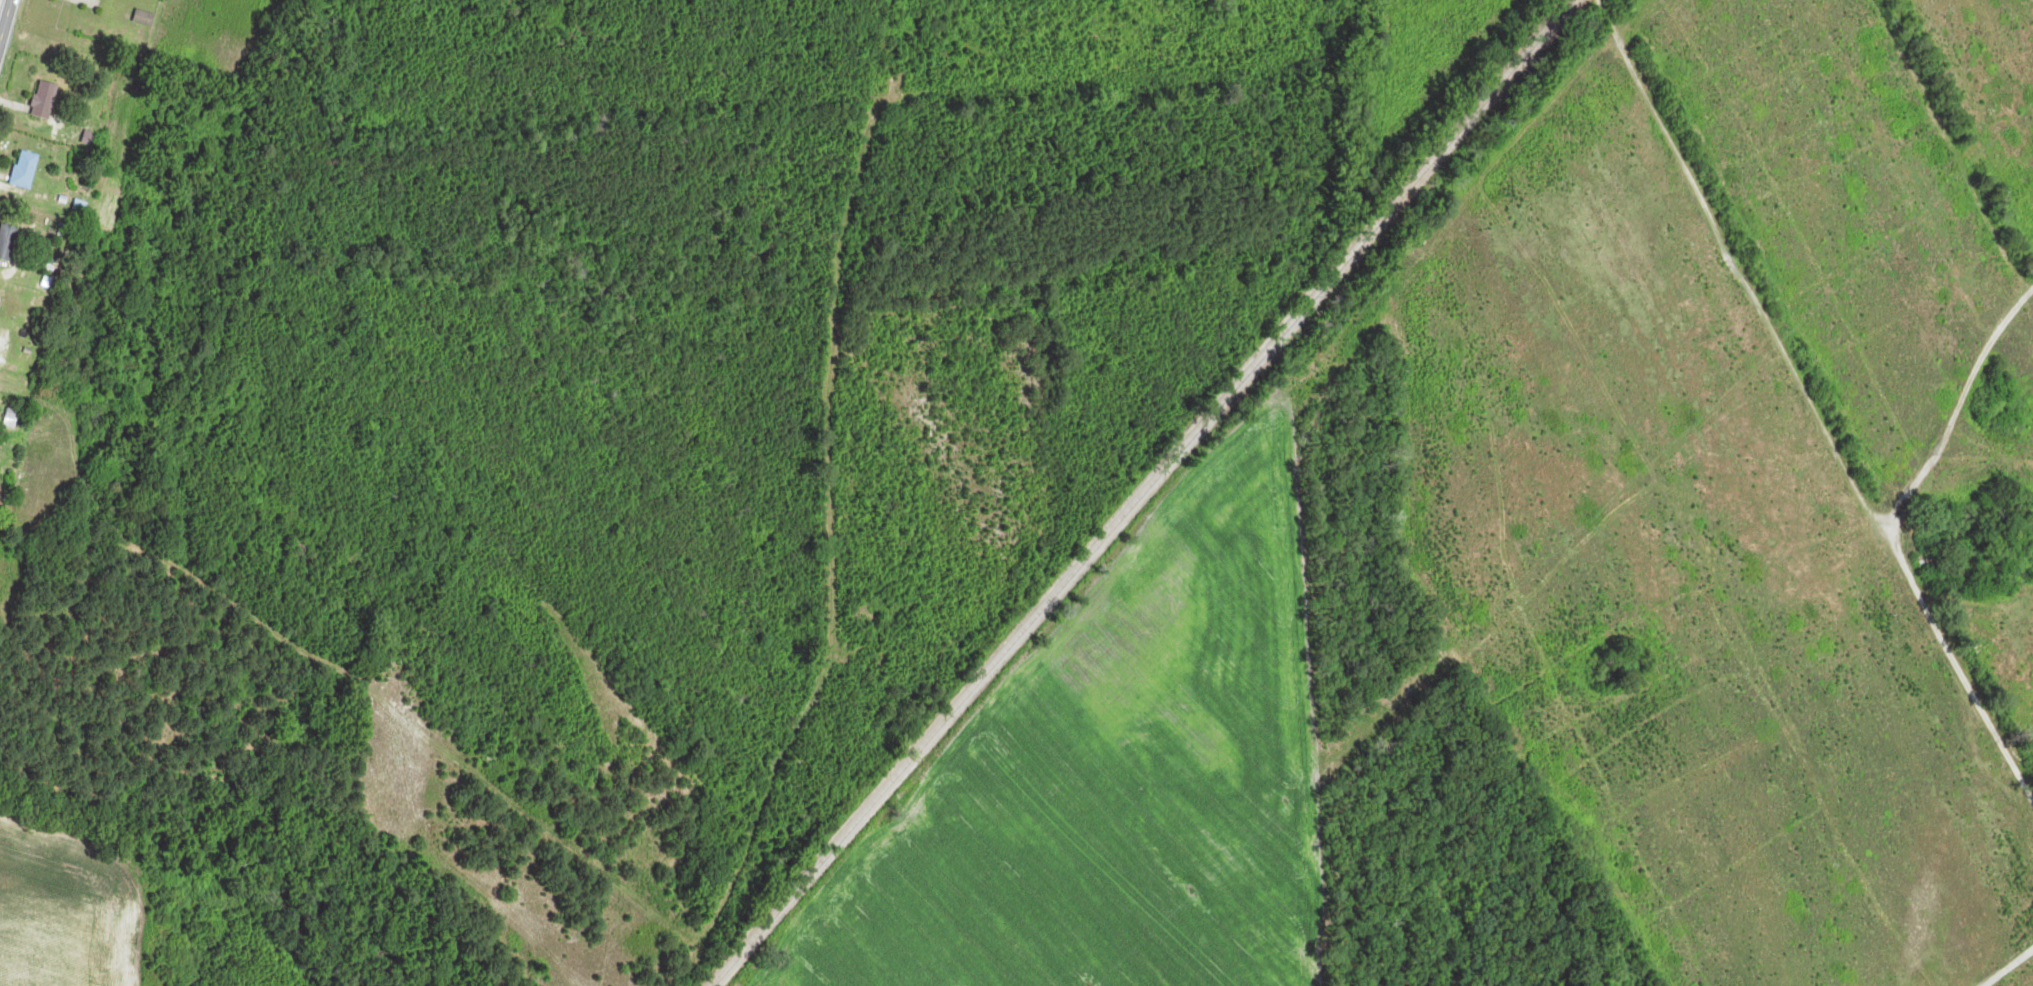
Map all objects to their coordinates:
road: (5, 4)
road: (6, 22)
building: (46, 100)
building: (26, 170)
building: (8, 242)
building: (0, 302)
building: (12, 419)
railway: (1148, 492)

